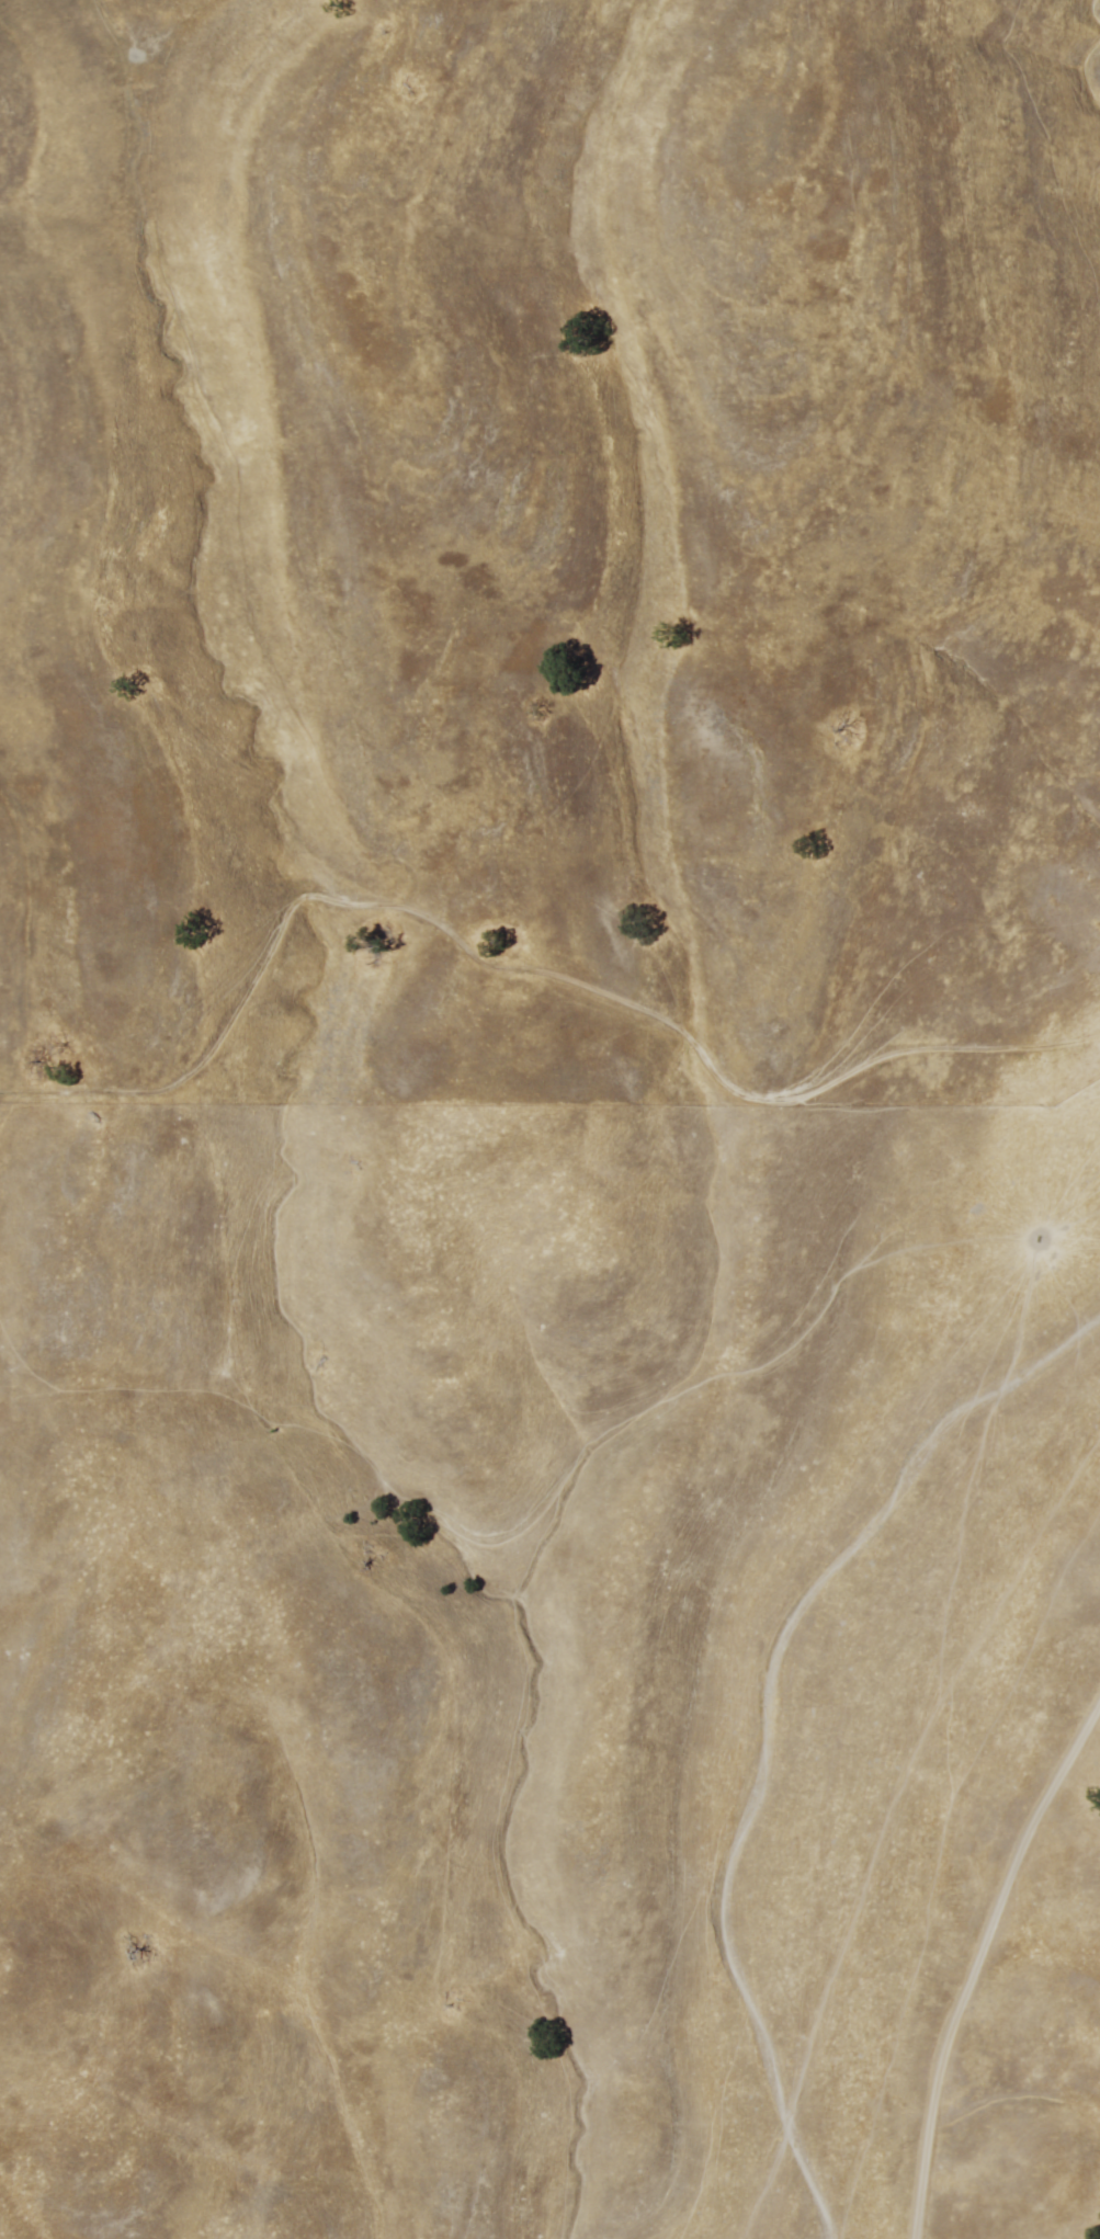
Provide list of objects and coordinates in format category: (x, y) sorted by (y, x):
road: (979, 1959)

